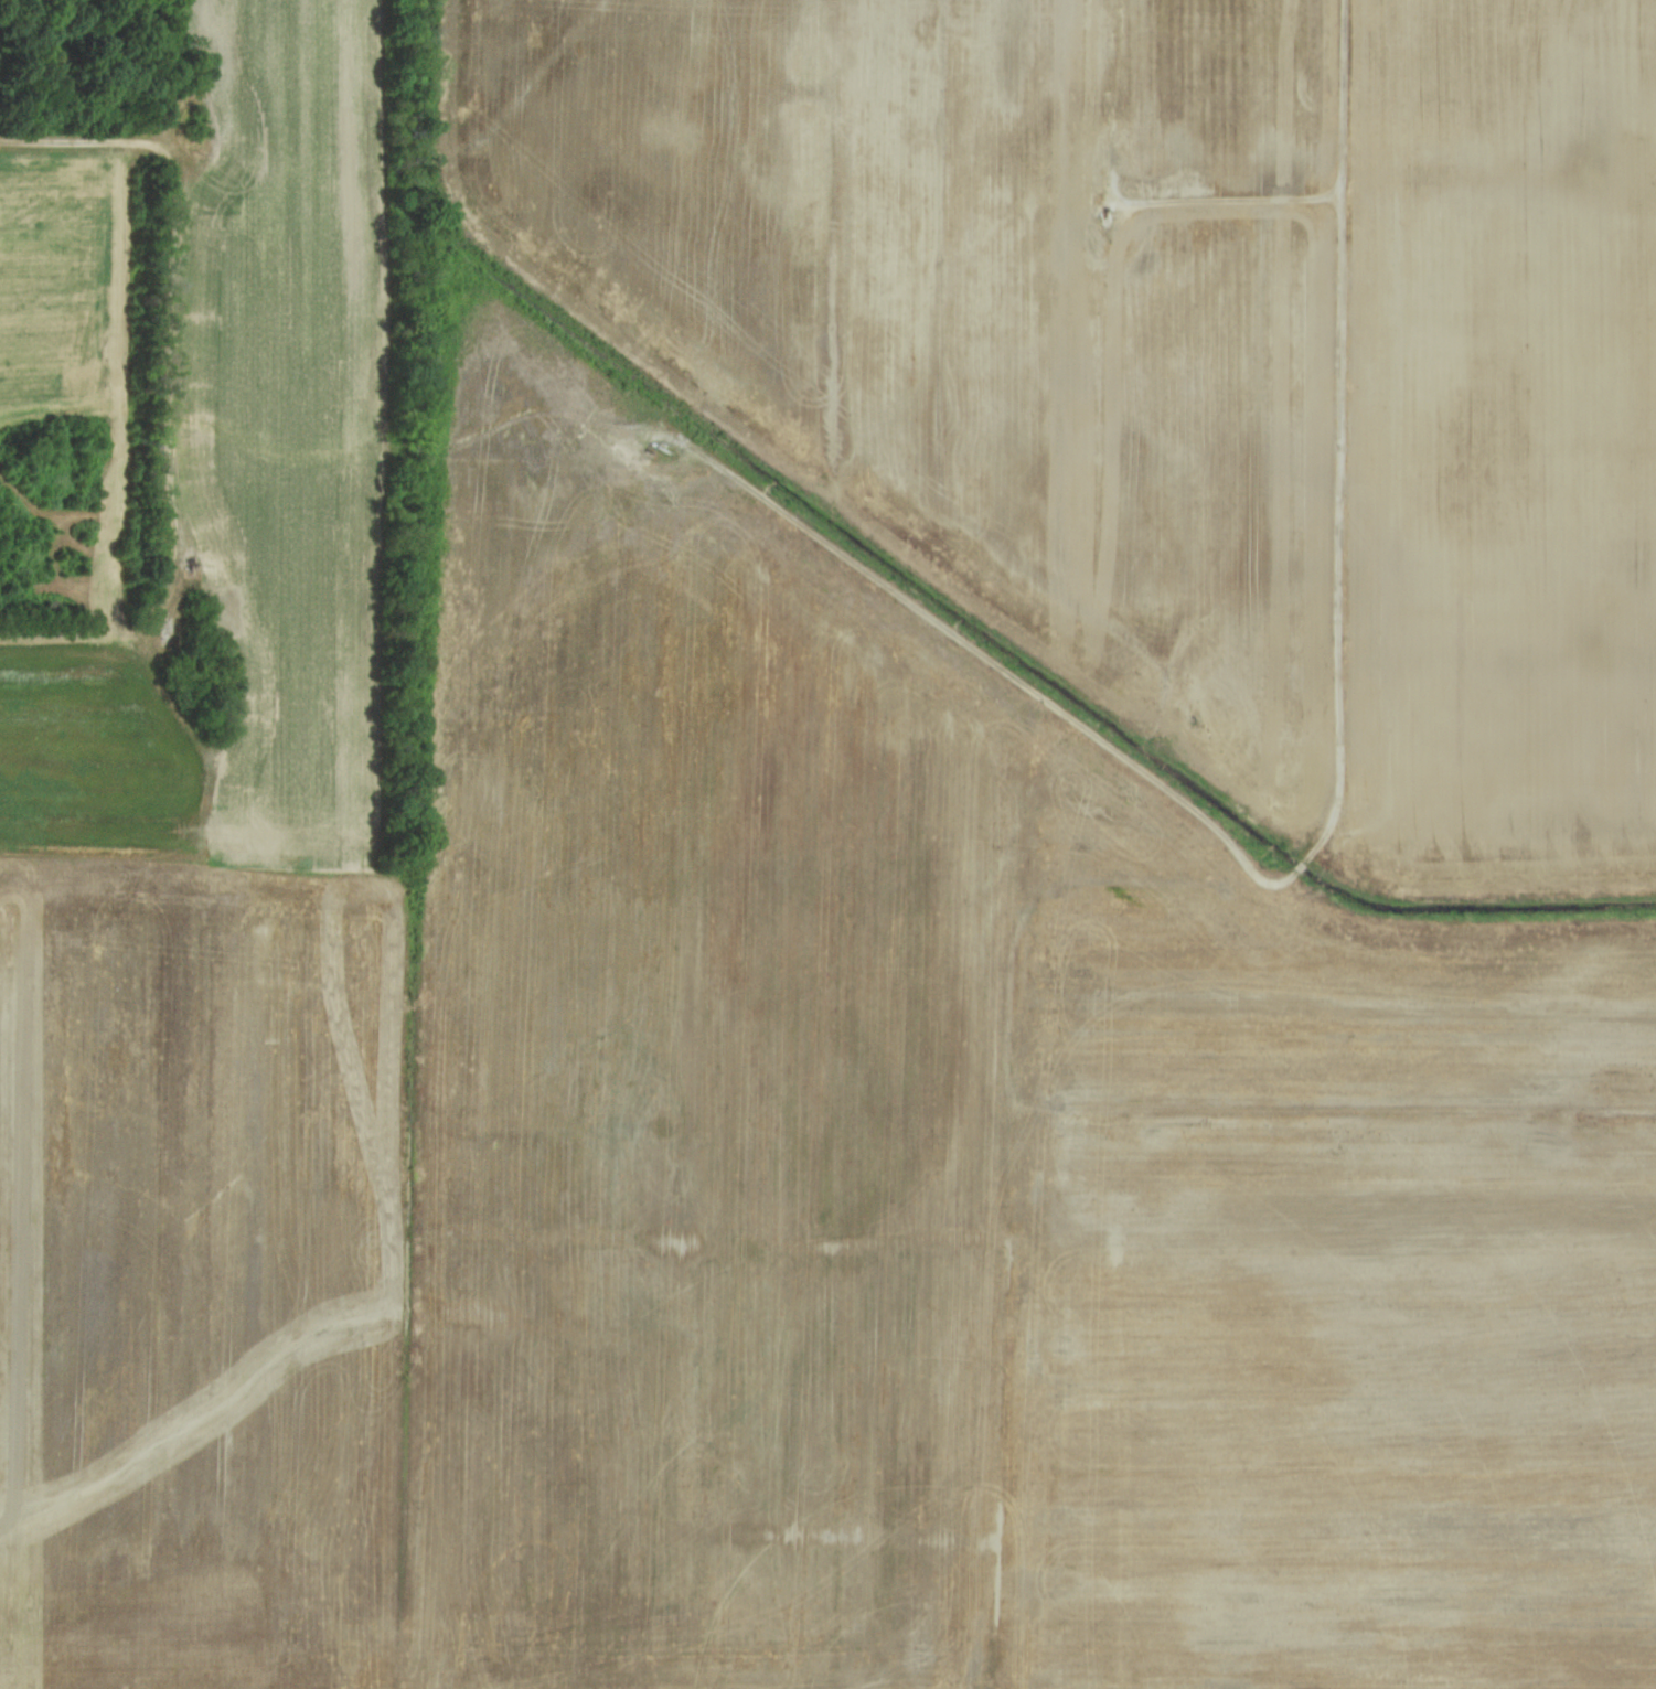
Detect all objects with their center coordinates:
road: (1233, 202)
petroleum well: (1109, 215)
road: (180, 260)
petroleum well: (191, 566)
petroleum well: (169, 635)
road: (1322, 837)

